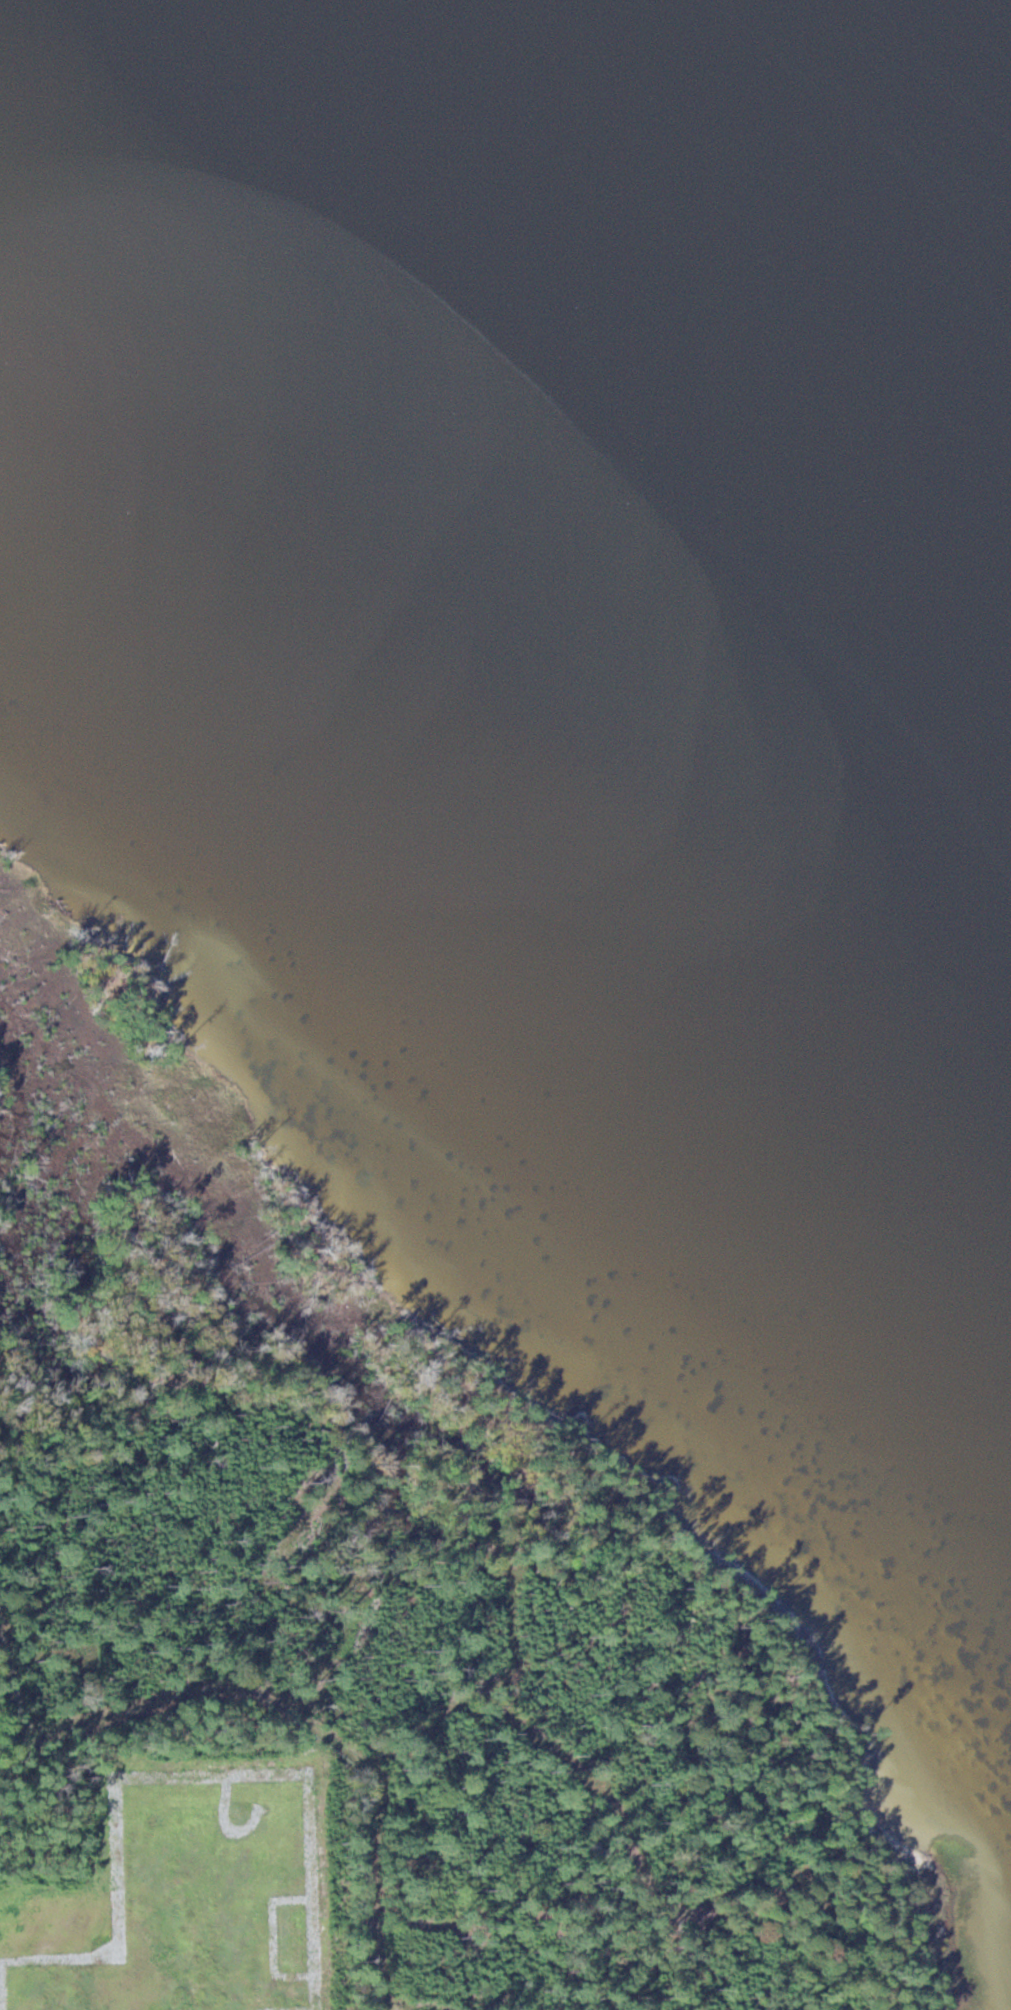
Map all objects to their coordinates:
road: (330, 1845)
road: (684, 1851)
road: (363, 1941)

